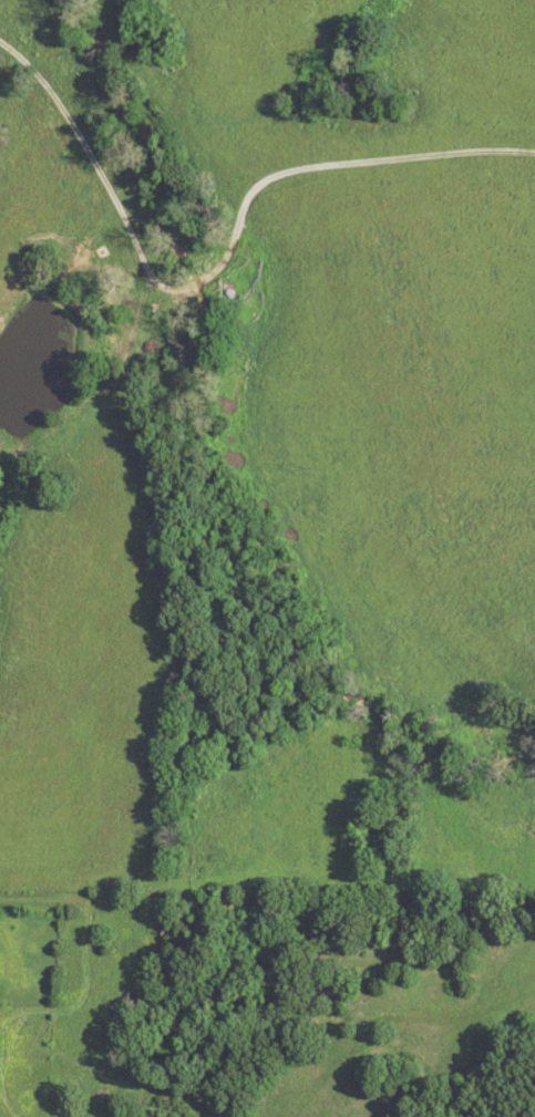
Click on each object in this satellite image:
road: (223, 261)

